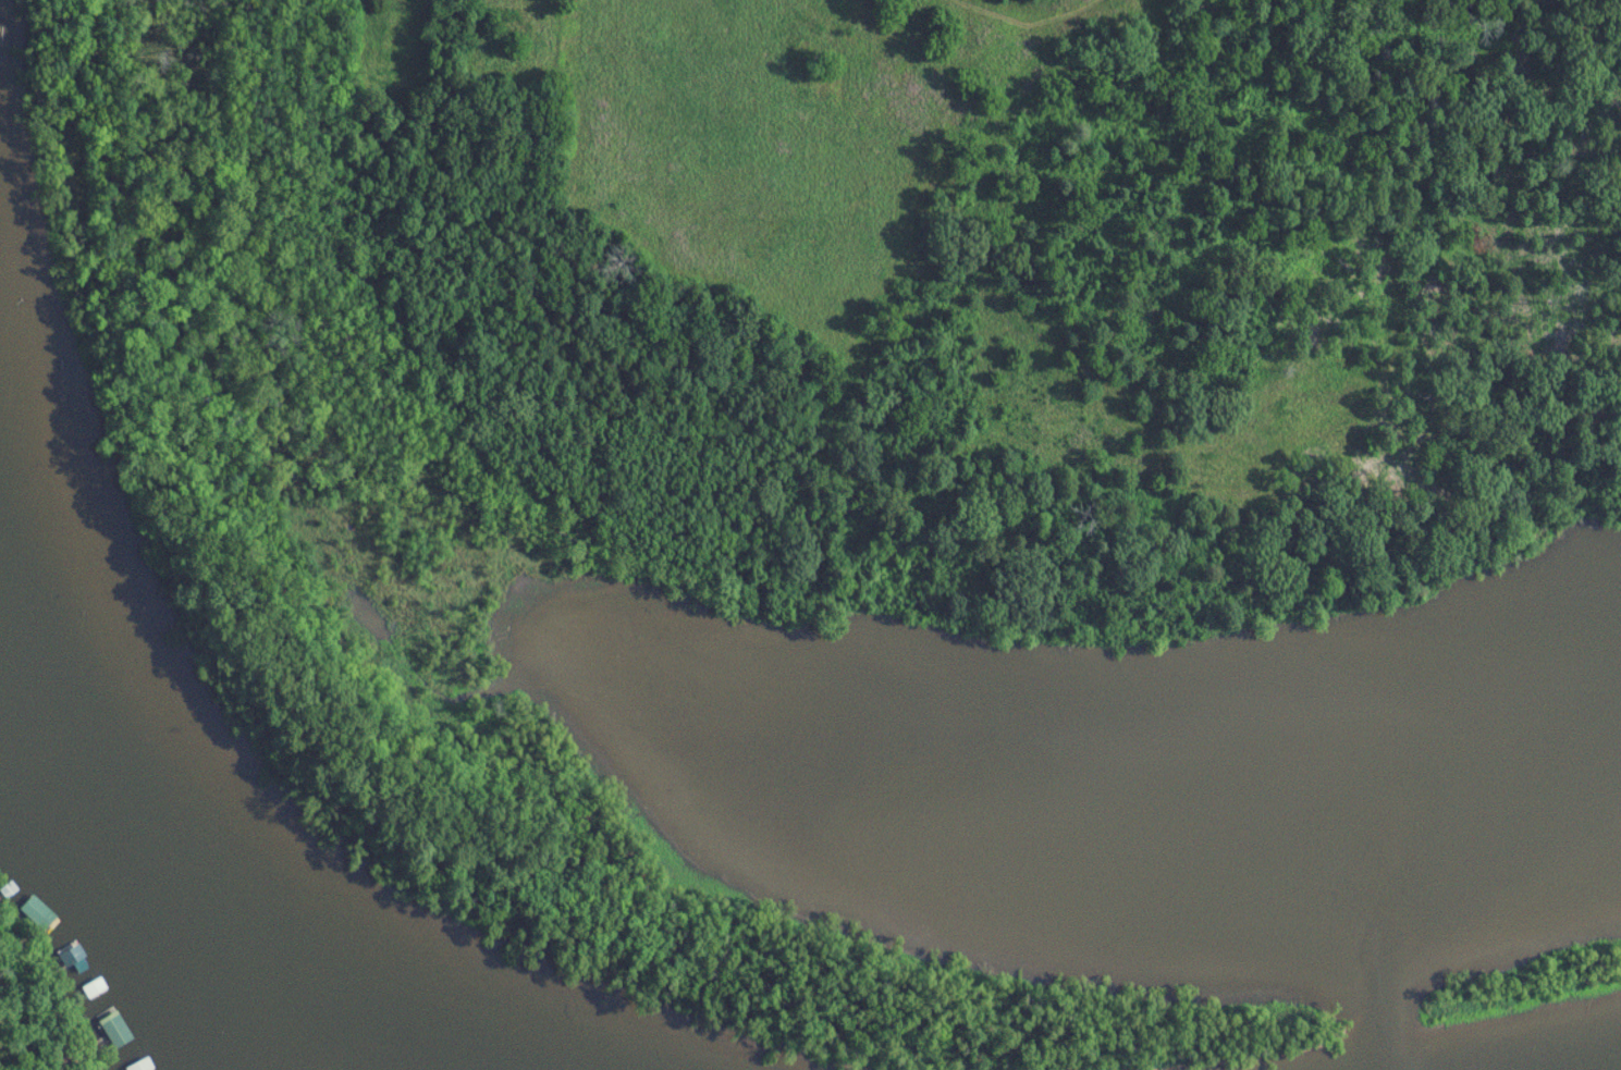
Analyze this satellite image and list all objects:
river: (169, 890)
building: (36, 910)
building: (75, 966)
building: (96, 989)
building: (118, 1031)
building: (143, 1066)

